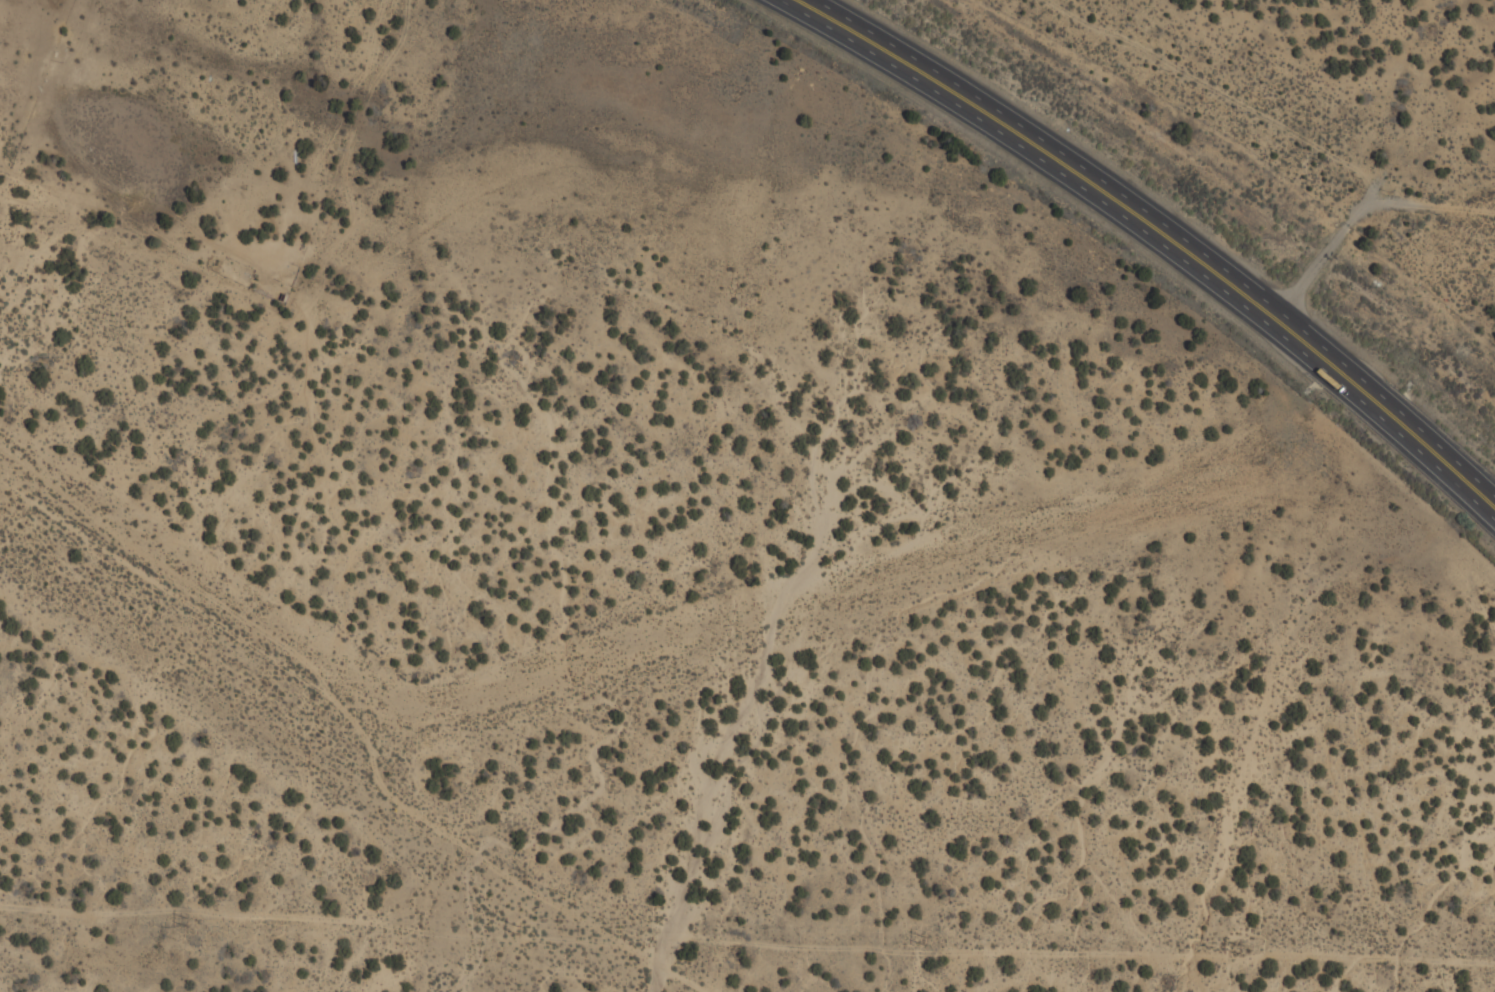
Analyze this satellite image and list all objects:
road: (1359, 215)
road: (1169, 229)
road: (1153, 240)
power tower: (181, 924)
power tower: (515, 932)
power tower: (922, 941)
power tower: (1233, 947)

